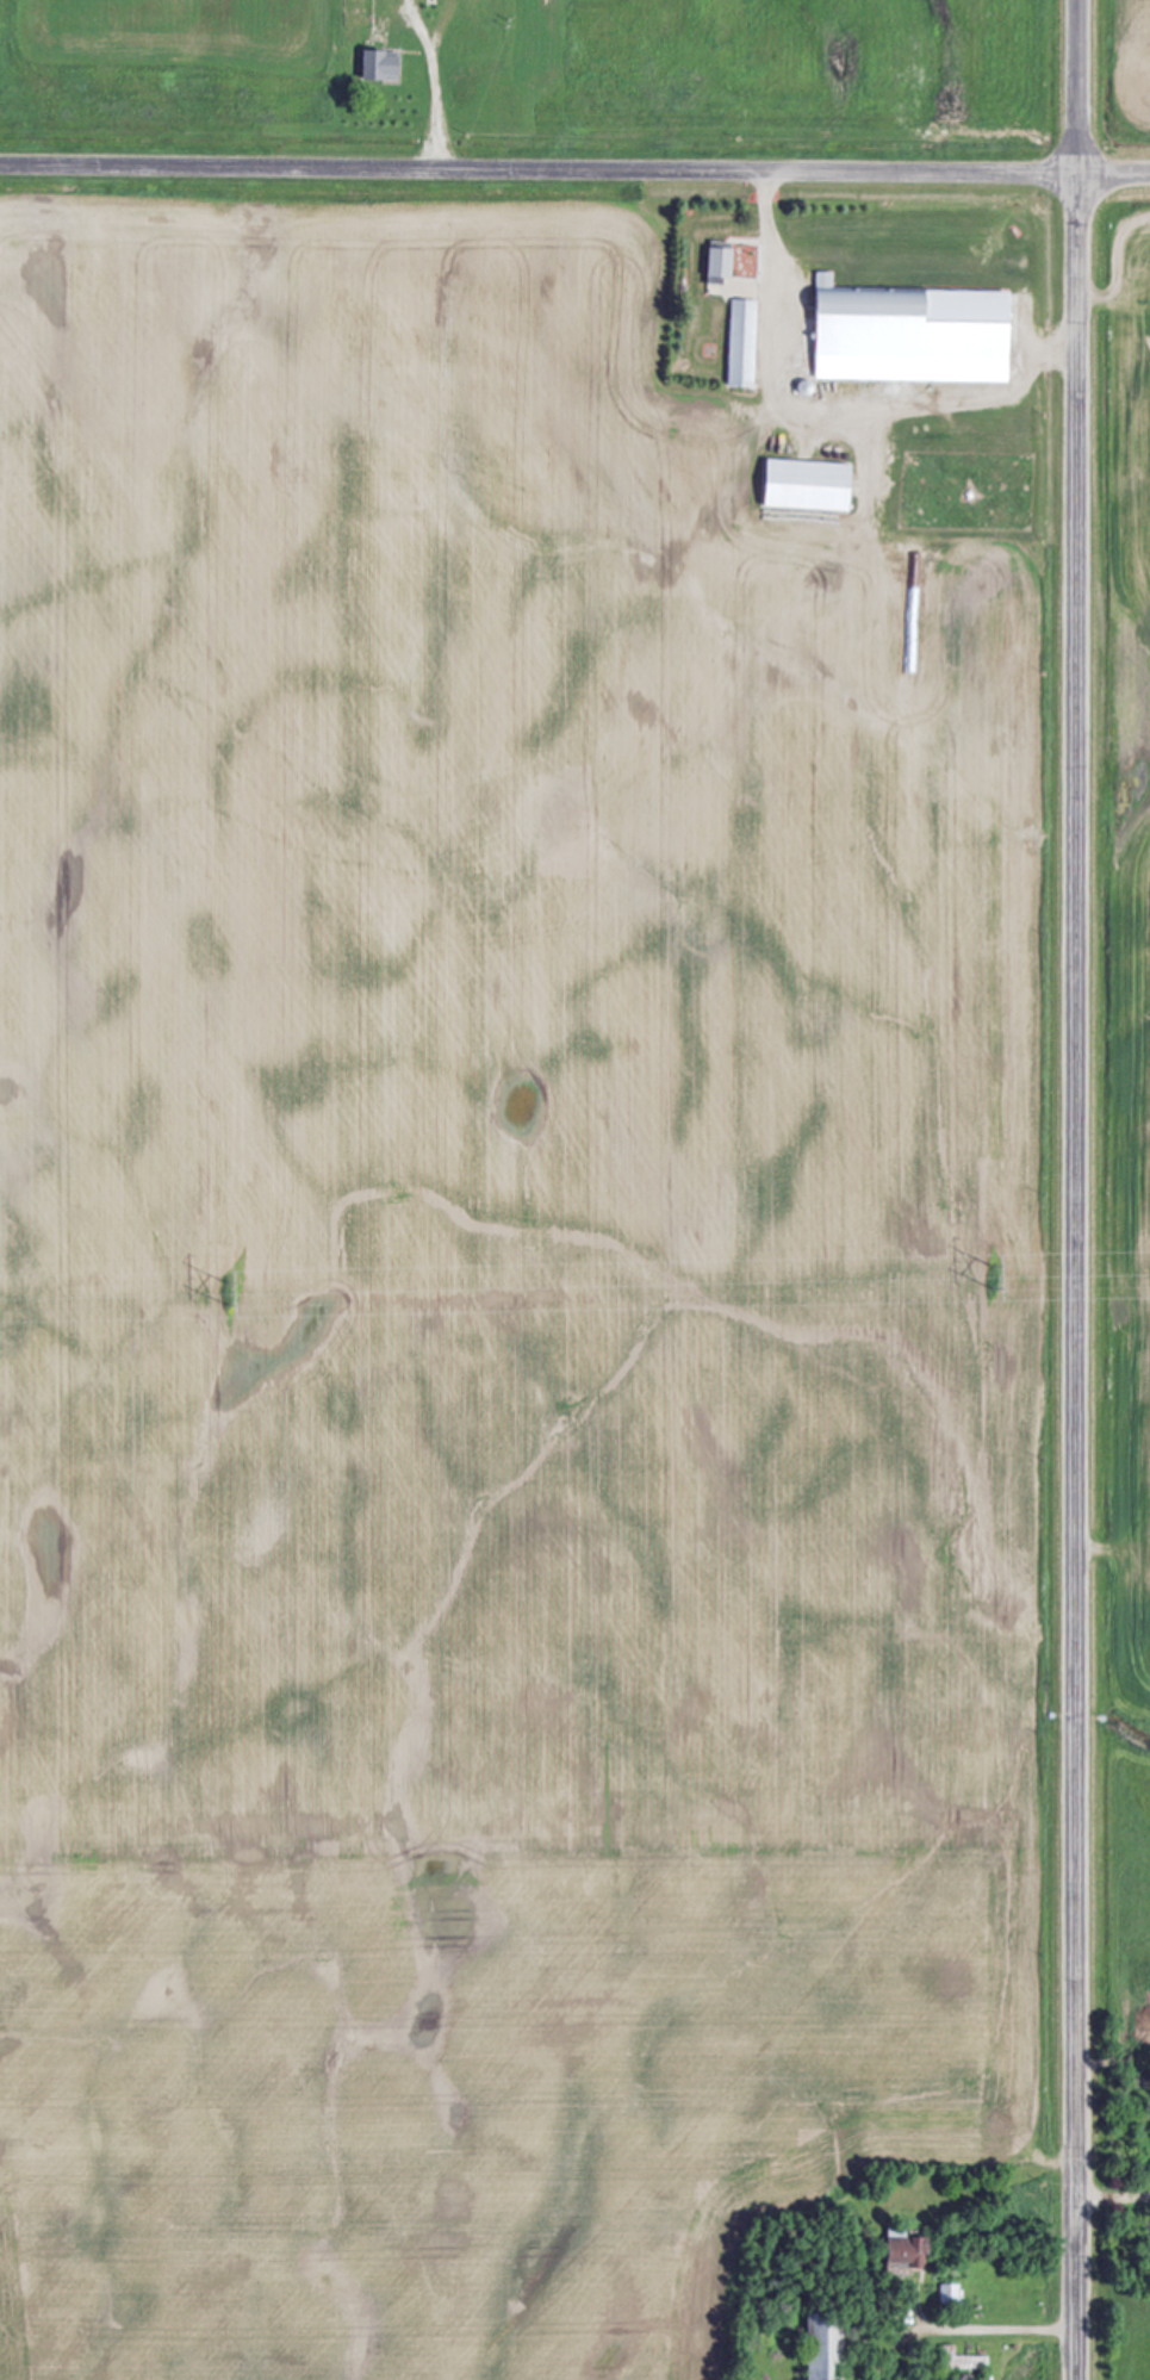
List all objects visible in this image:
building: (379, 64)
road: (439, 97)
road: (574, 167)
road: (773, 251)
building: (721, 262)
building: (912, 335)
building: (742, 343)
building: (809, 485)
road: (1076, 1189)
power tower: (992, 1276)
power tower: (220, 1294)
road: (1113, 2194)
building: (906, 2249)
building: (1149, 2262)
building: (950, 2293)
road: (997, 2329)
building: (826, 2347)

